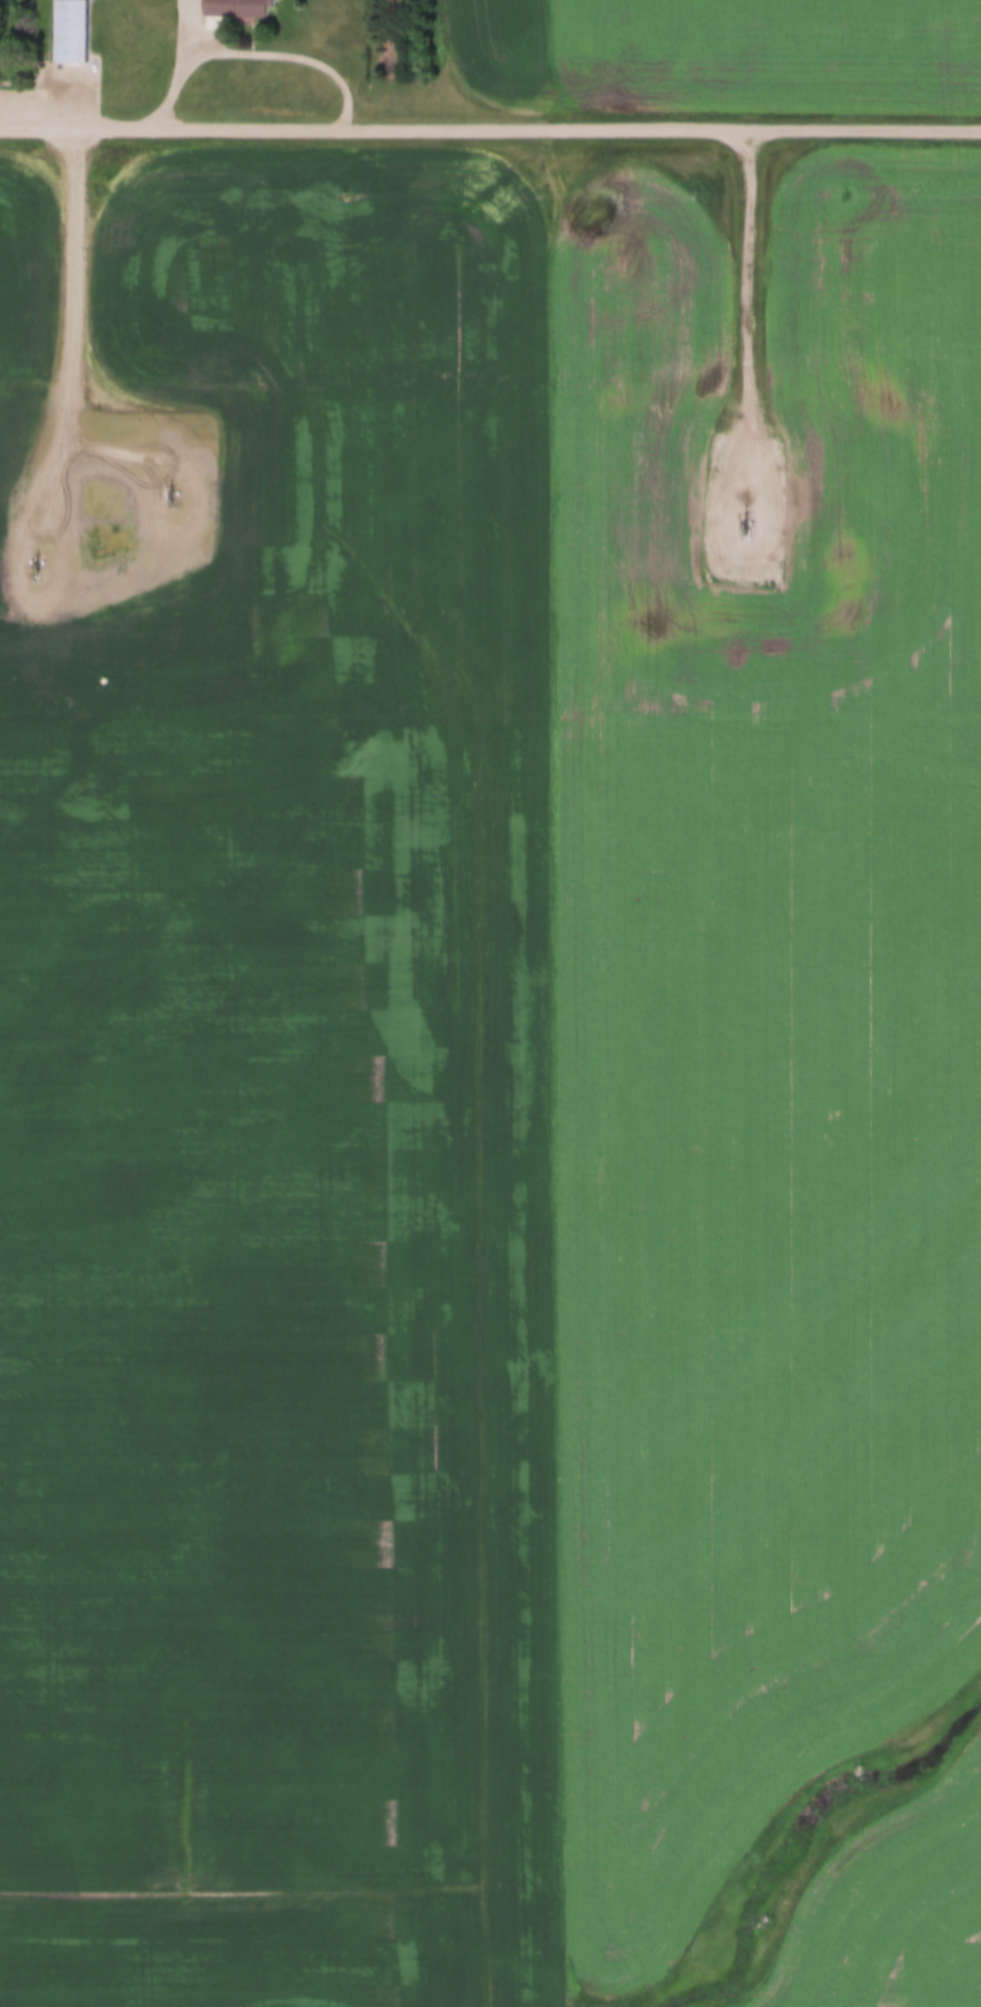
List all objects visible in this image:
building: (236, 8)
building: (70, 30)
road: (256, 45)
road: (490, 122)
road: (749, 284)

